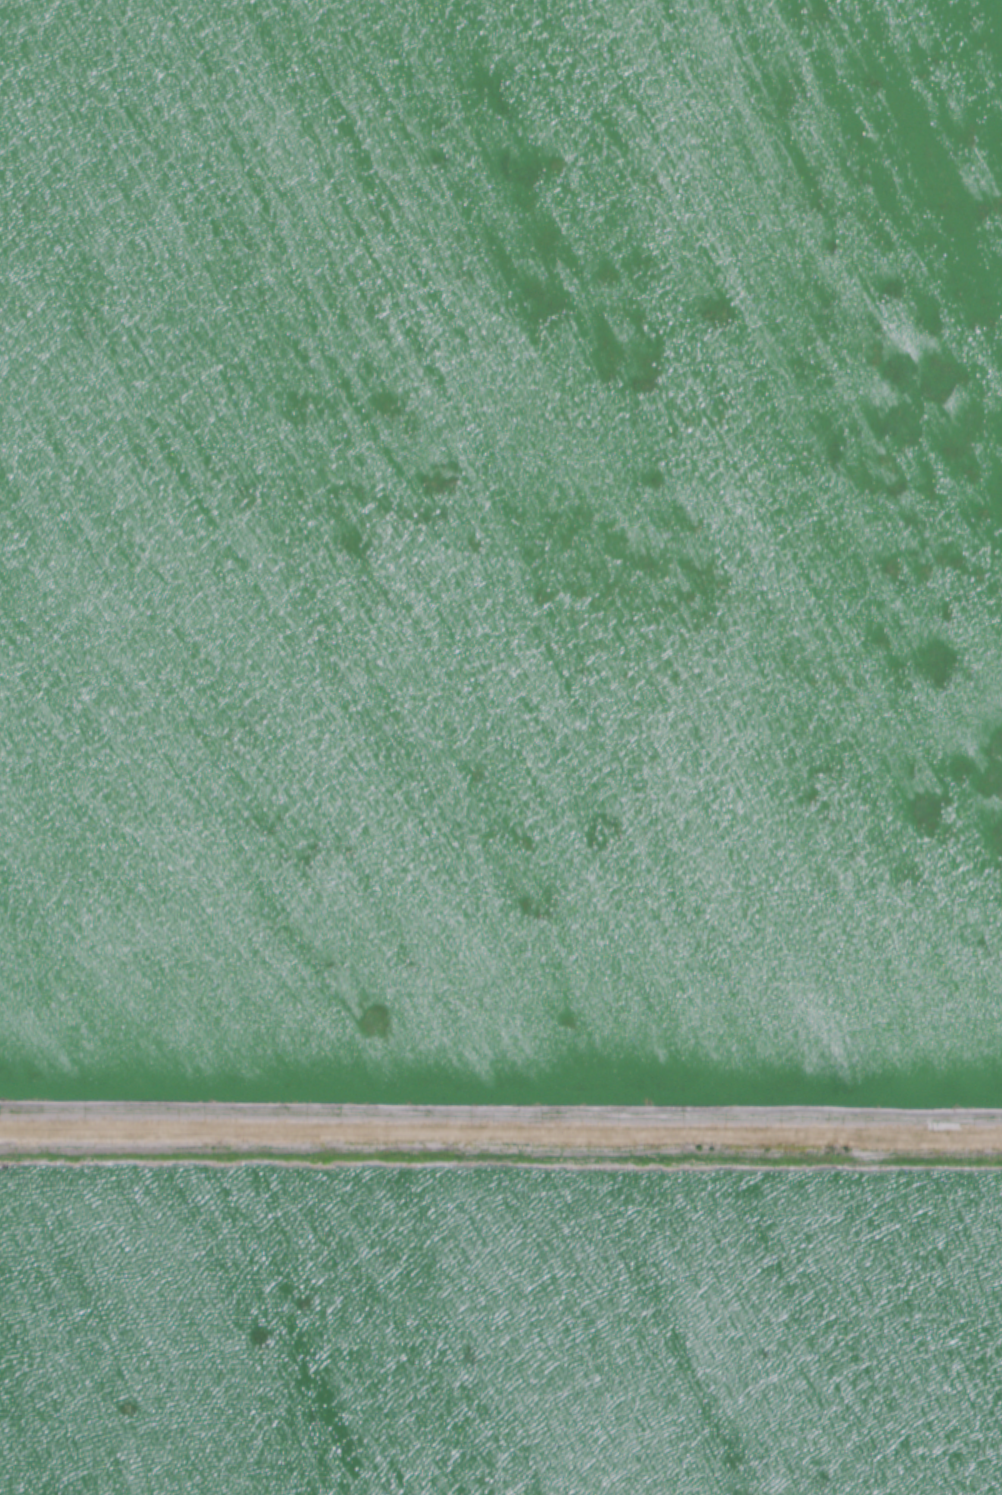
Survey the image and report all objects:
wastewater plant: (501, 747)

